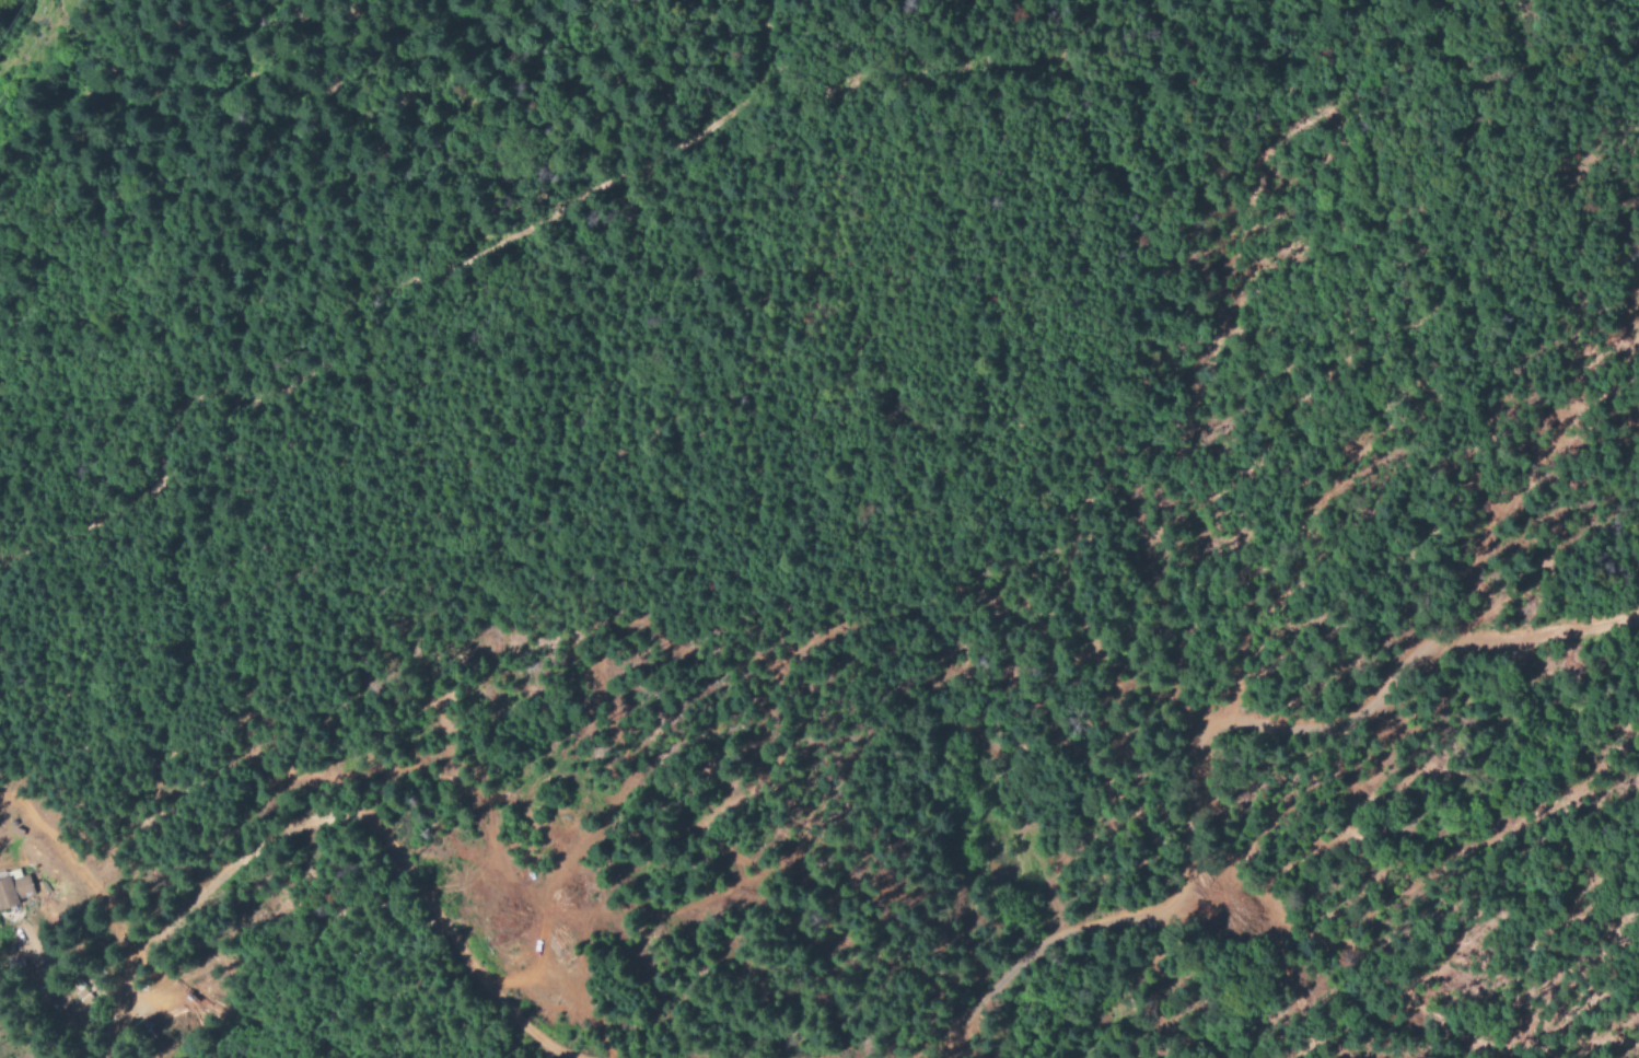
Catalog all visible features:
building: (7, 896)

